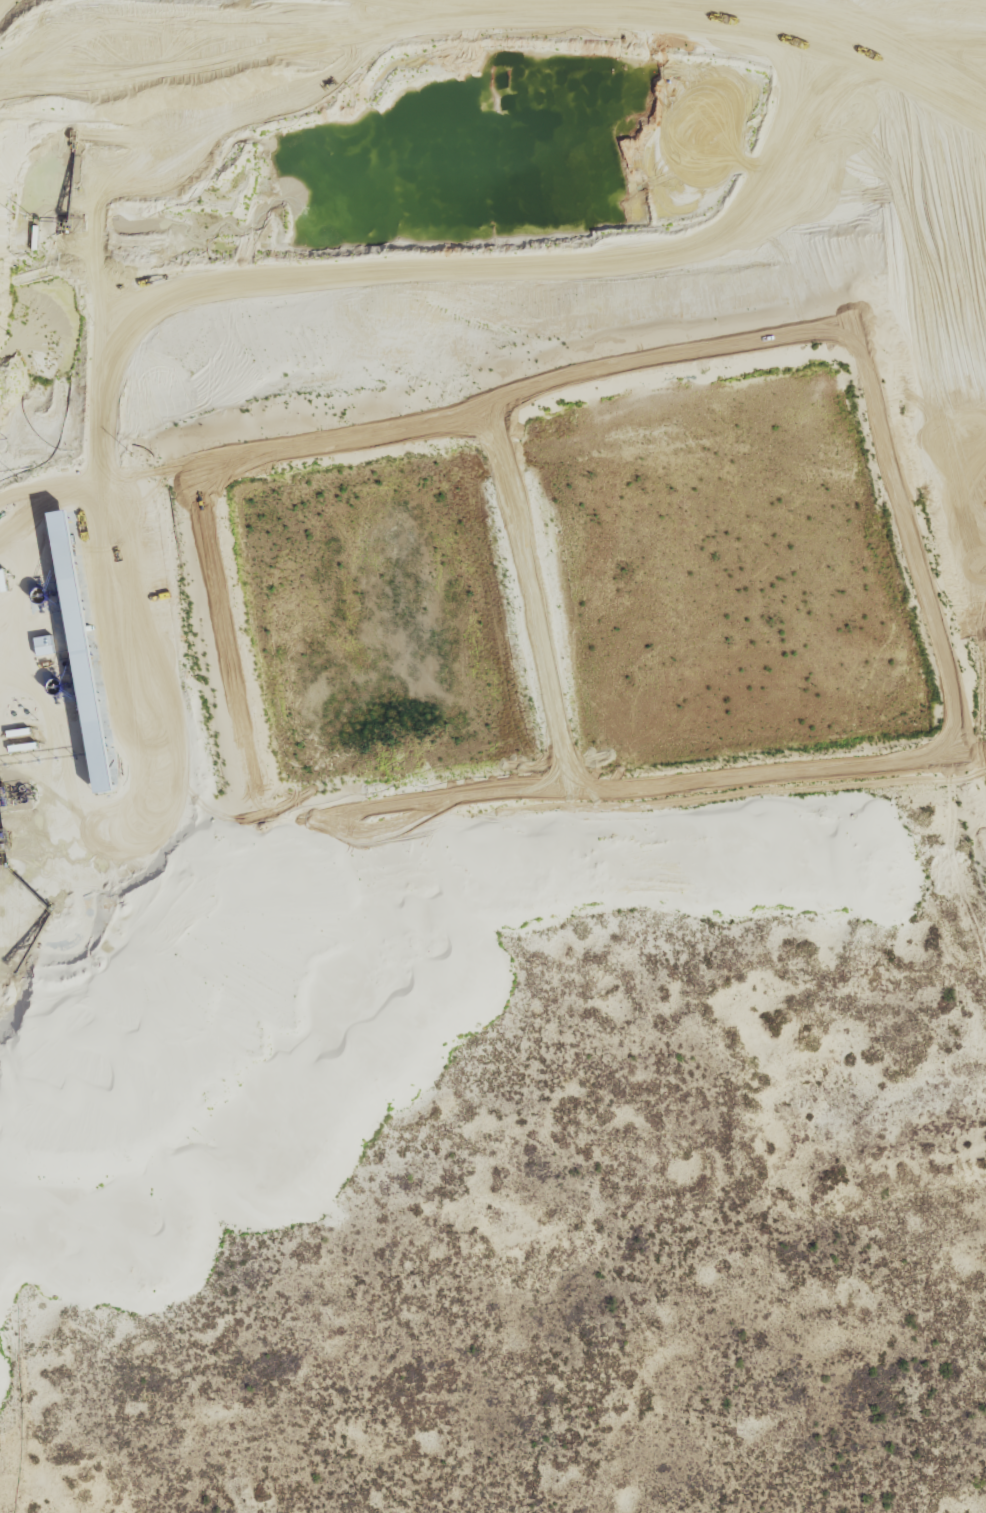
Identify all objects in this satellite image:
quarry: (396, 592)
building: (93, 652)

